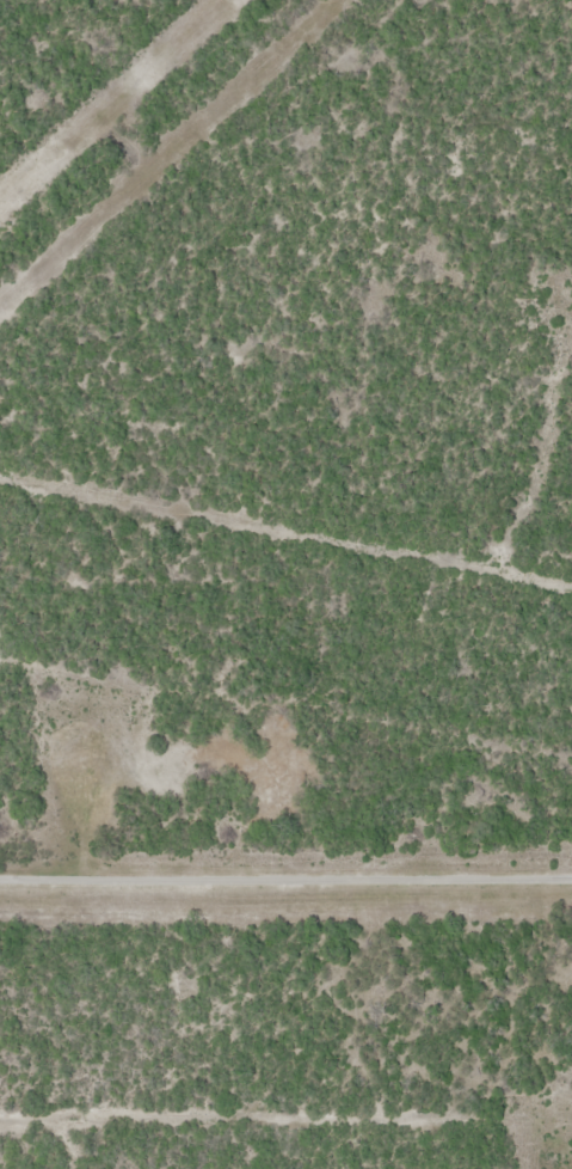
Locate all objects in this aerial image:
road: (285, 875)

